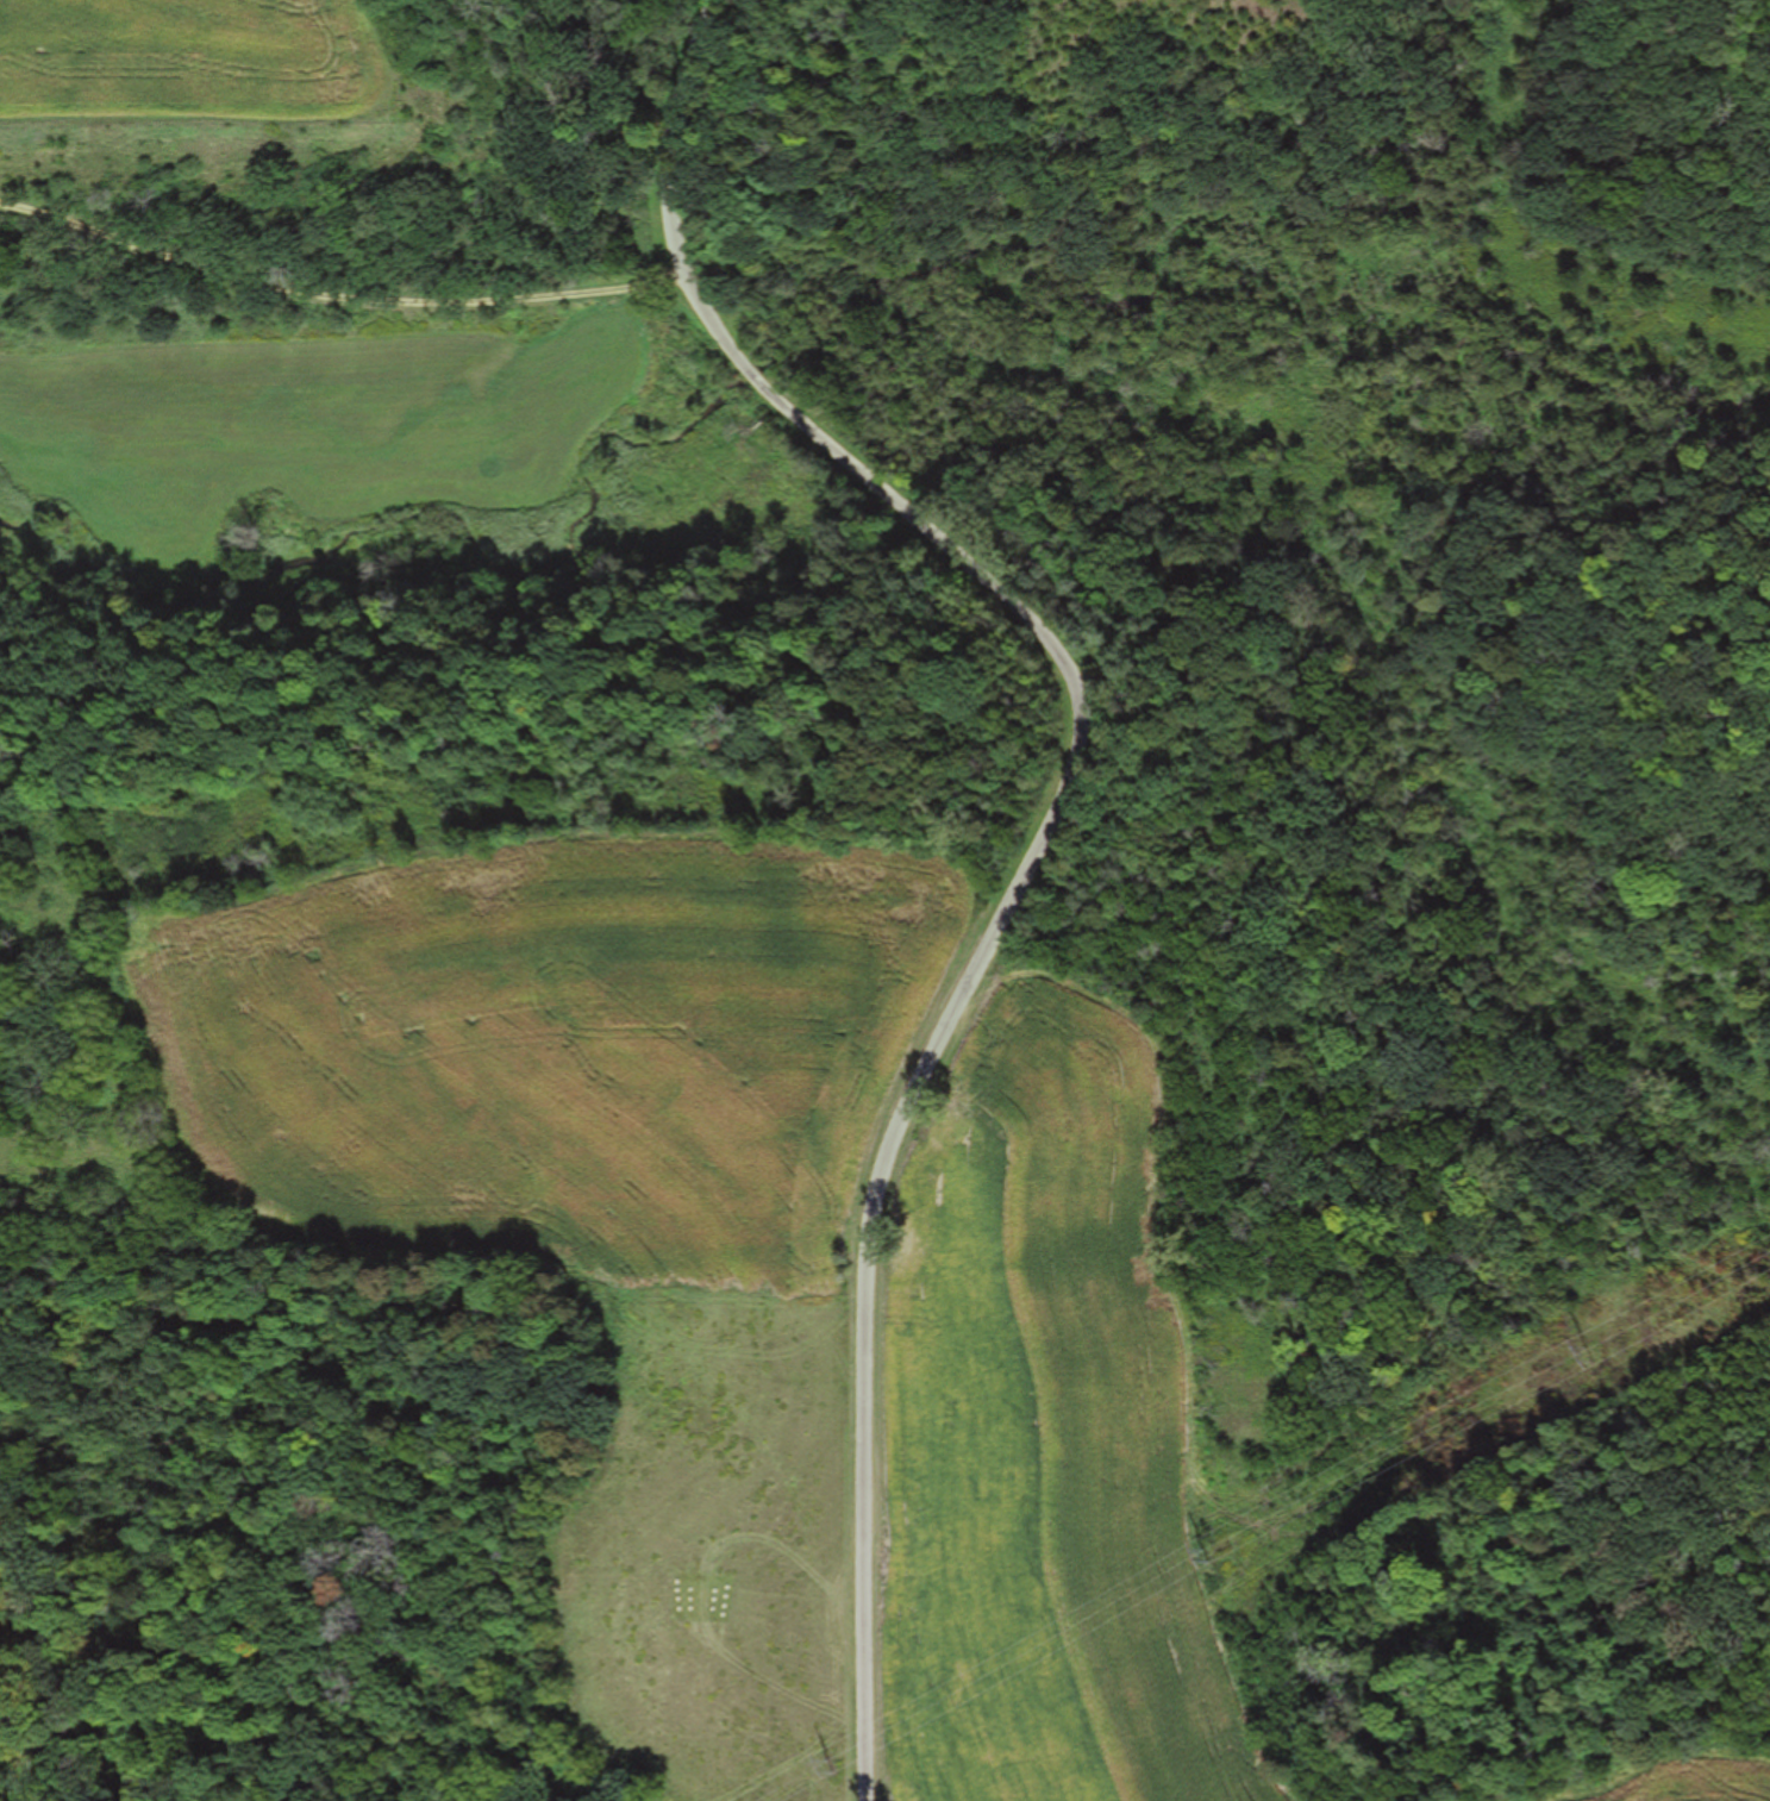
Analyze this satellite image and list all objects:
road: (333, 309)
road: (1047, 823)
power tower: (1590, 1353)
power tower: (1202, 1553)
power tower: (827, 1765)

